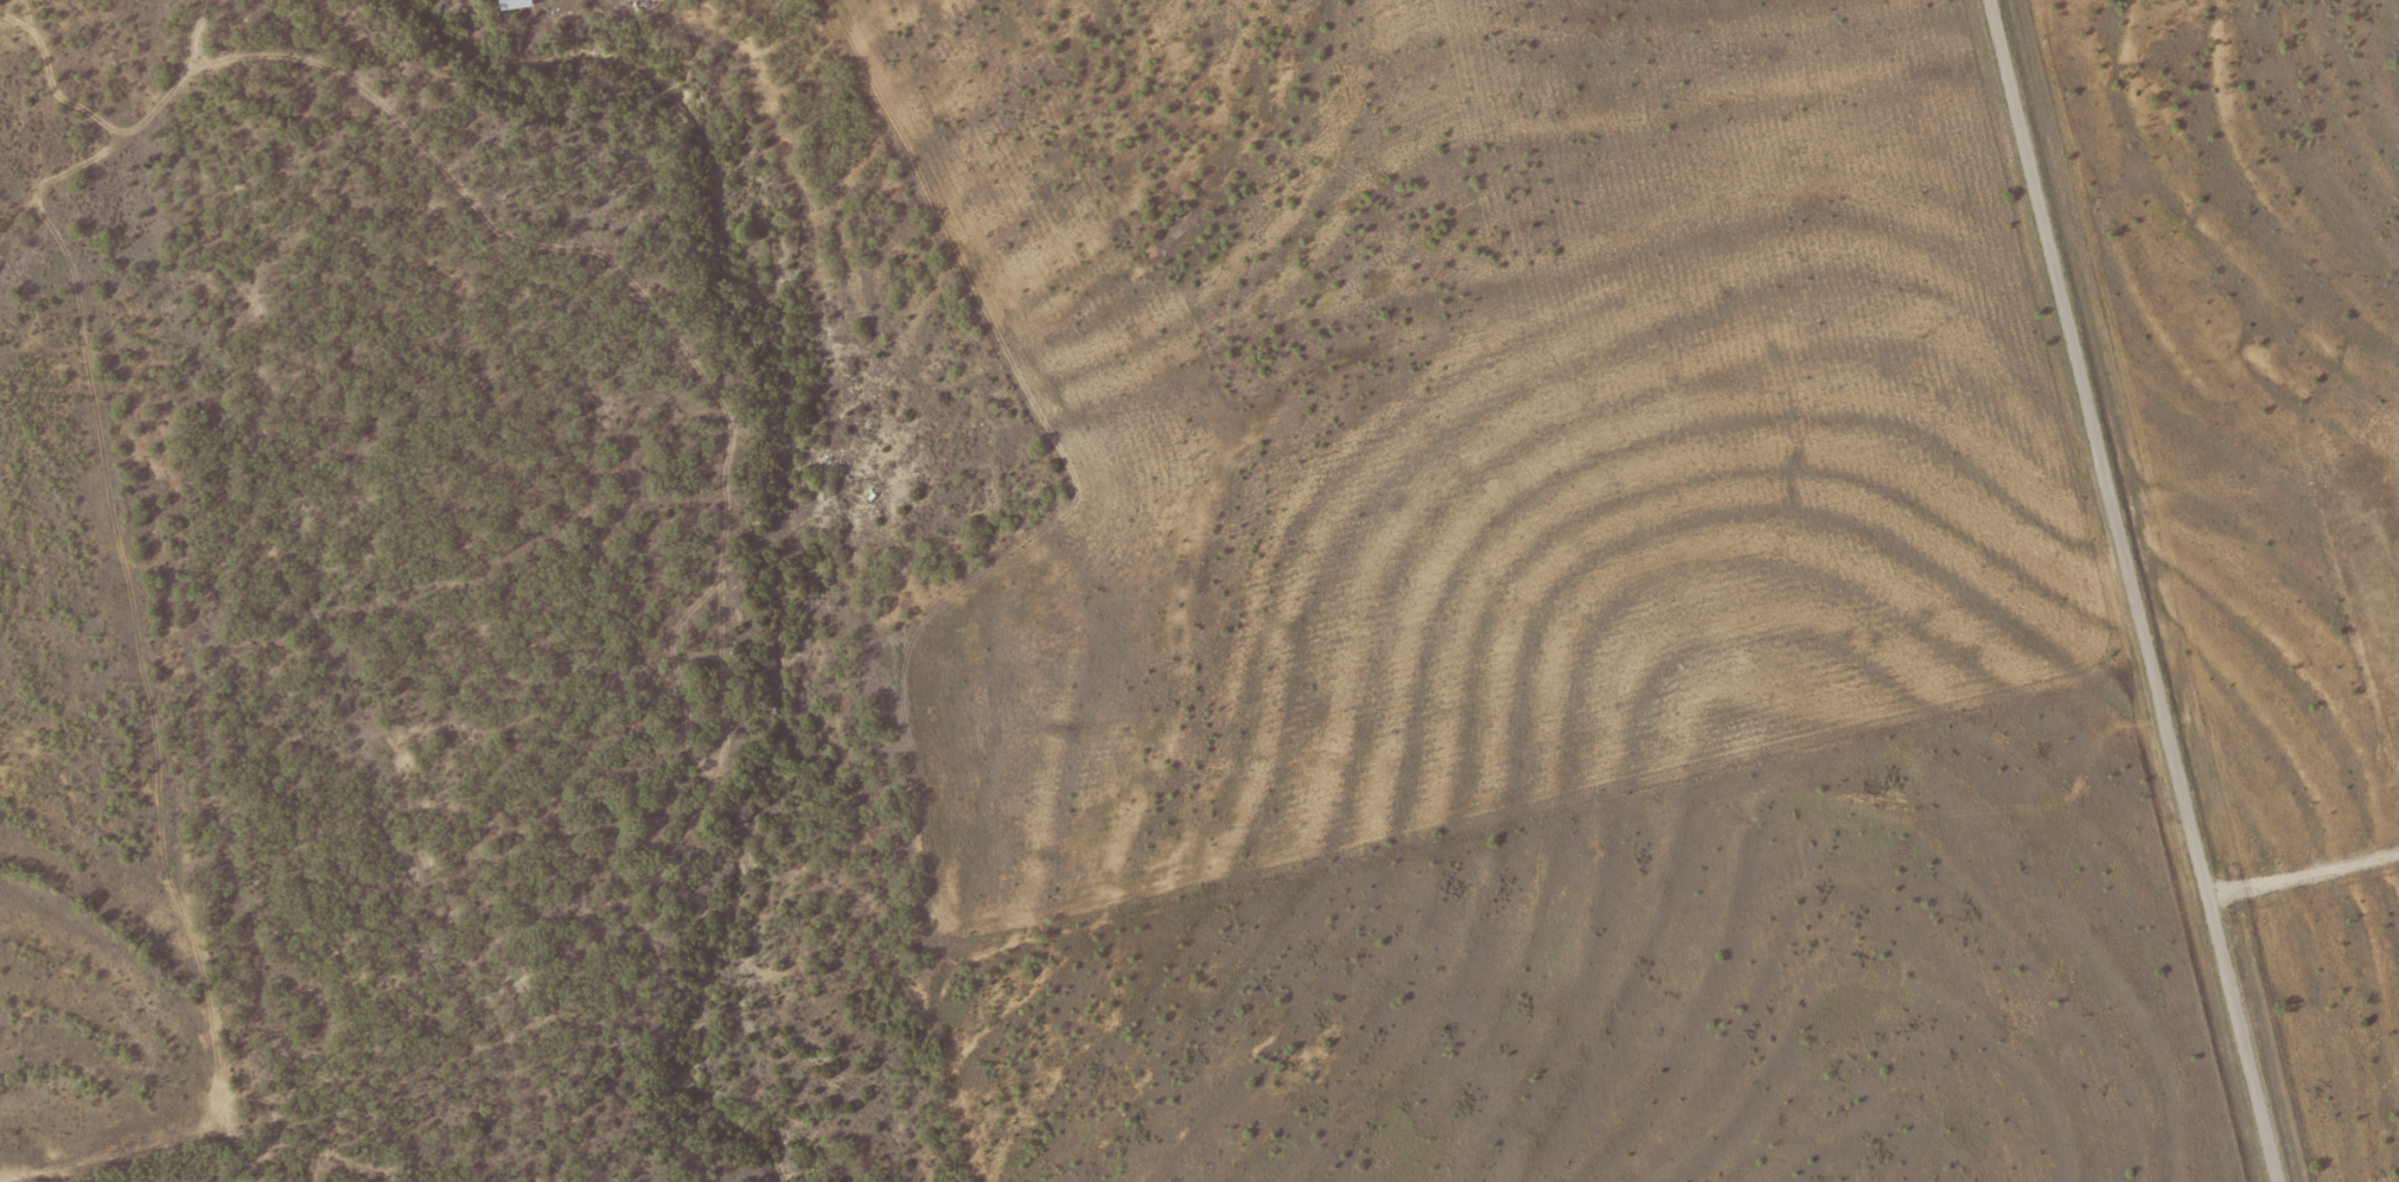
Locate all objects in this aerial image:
road: (2130, 590)
road: (2304, 878)

